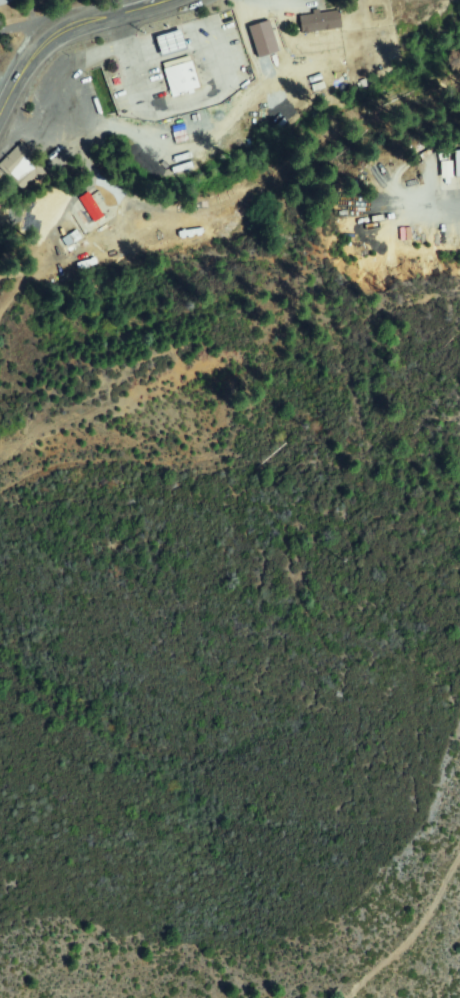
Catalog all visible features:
building: (5, 2)
road: (87, 7)
building: (320, 22)
road: (33, 26)
road: (56, 31)
building: (171, 43)
building: (181, 76)
building: (182, 133)
building: (458, 163)
building: (21, 167)
building: (446, 169)
building: (92, 209)
building: (84, 220)
road: (7, 274)

